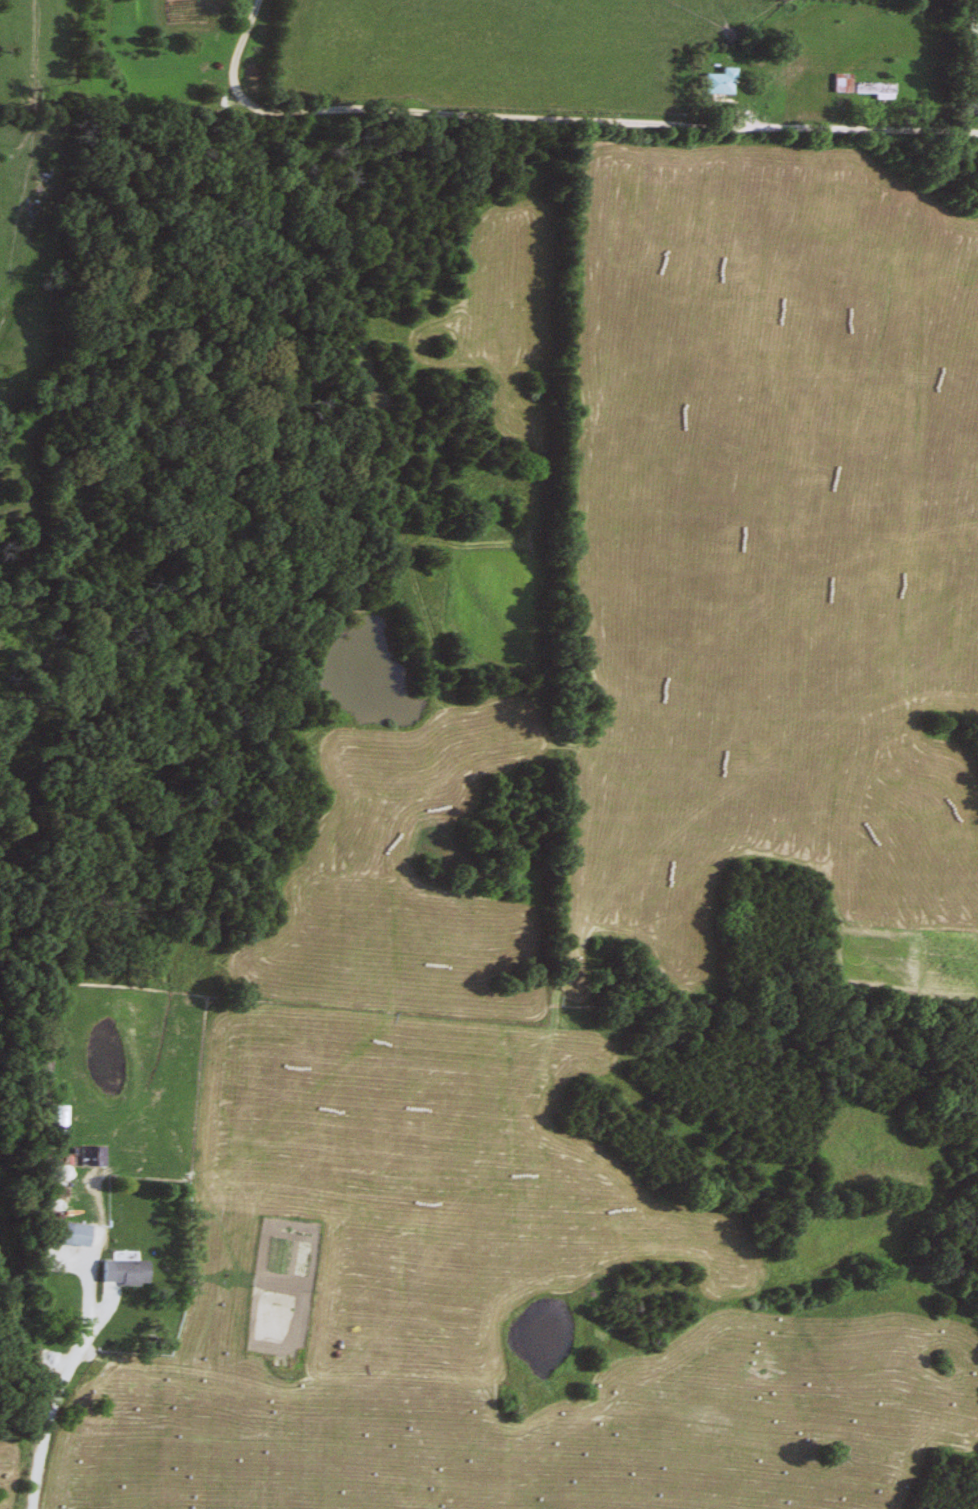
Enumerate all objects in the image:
road: (973, 26)
building: (715, 83)
building: (857, 87)
road: (554, 116)
road: (976, 123)
road: (976, 133)
building: (88, 1156)
building: (62, 1234)
building: (123, 1273)
road: (50, 1412)

